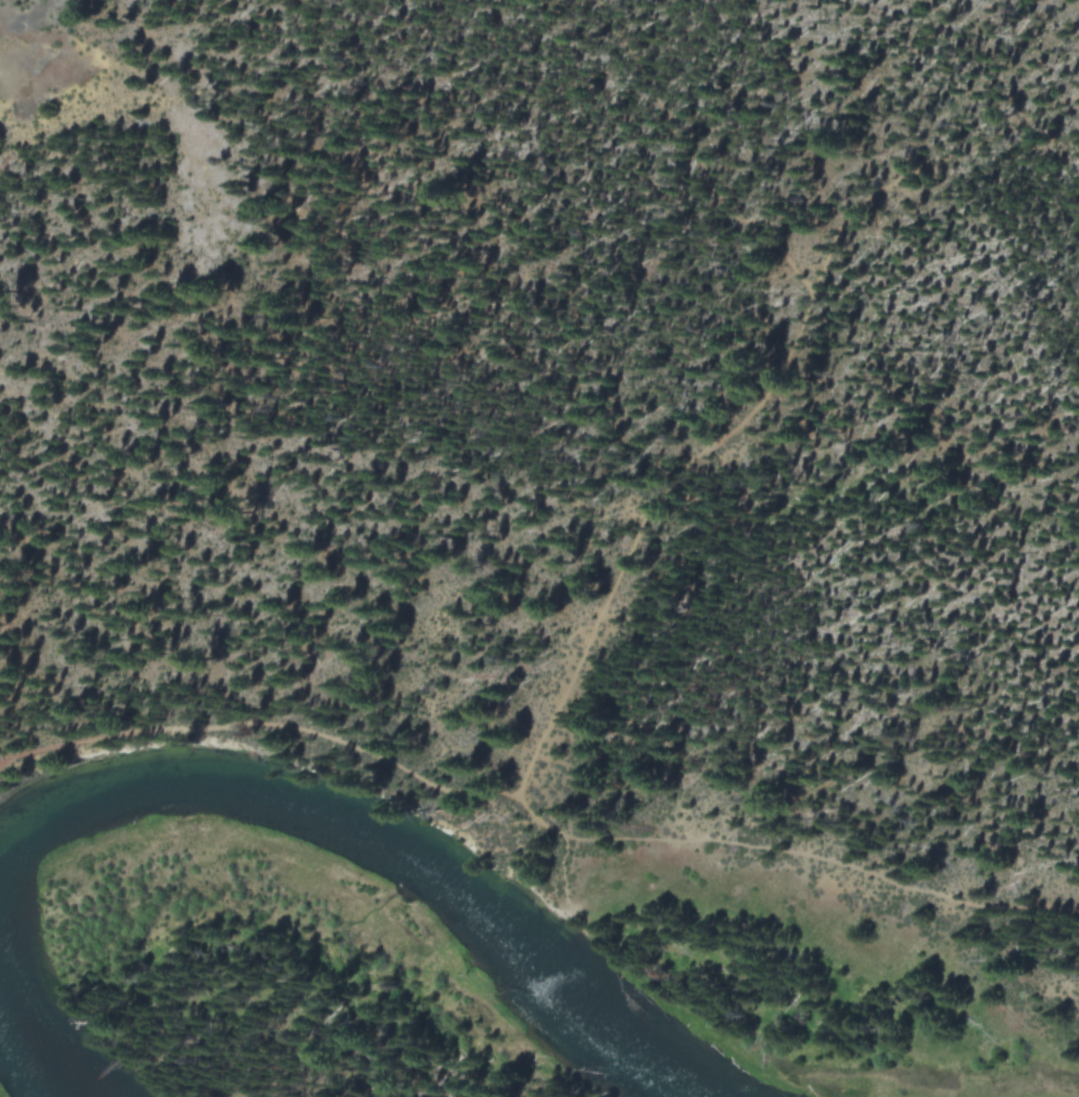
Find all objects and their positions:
road: (989, 146)
road: (695, 157)
road: (559, 704)
river: (383, 848)
road: (792, 857)
river: (32, 1033)
road: (279, 1094)

